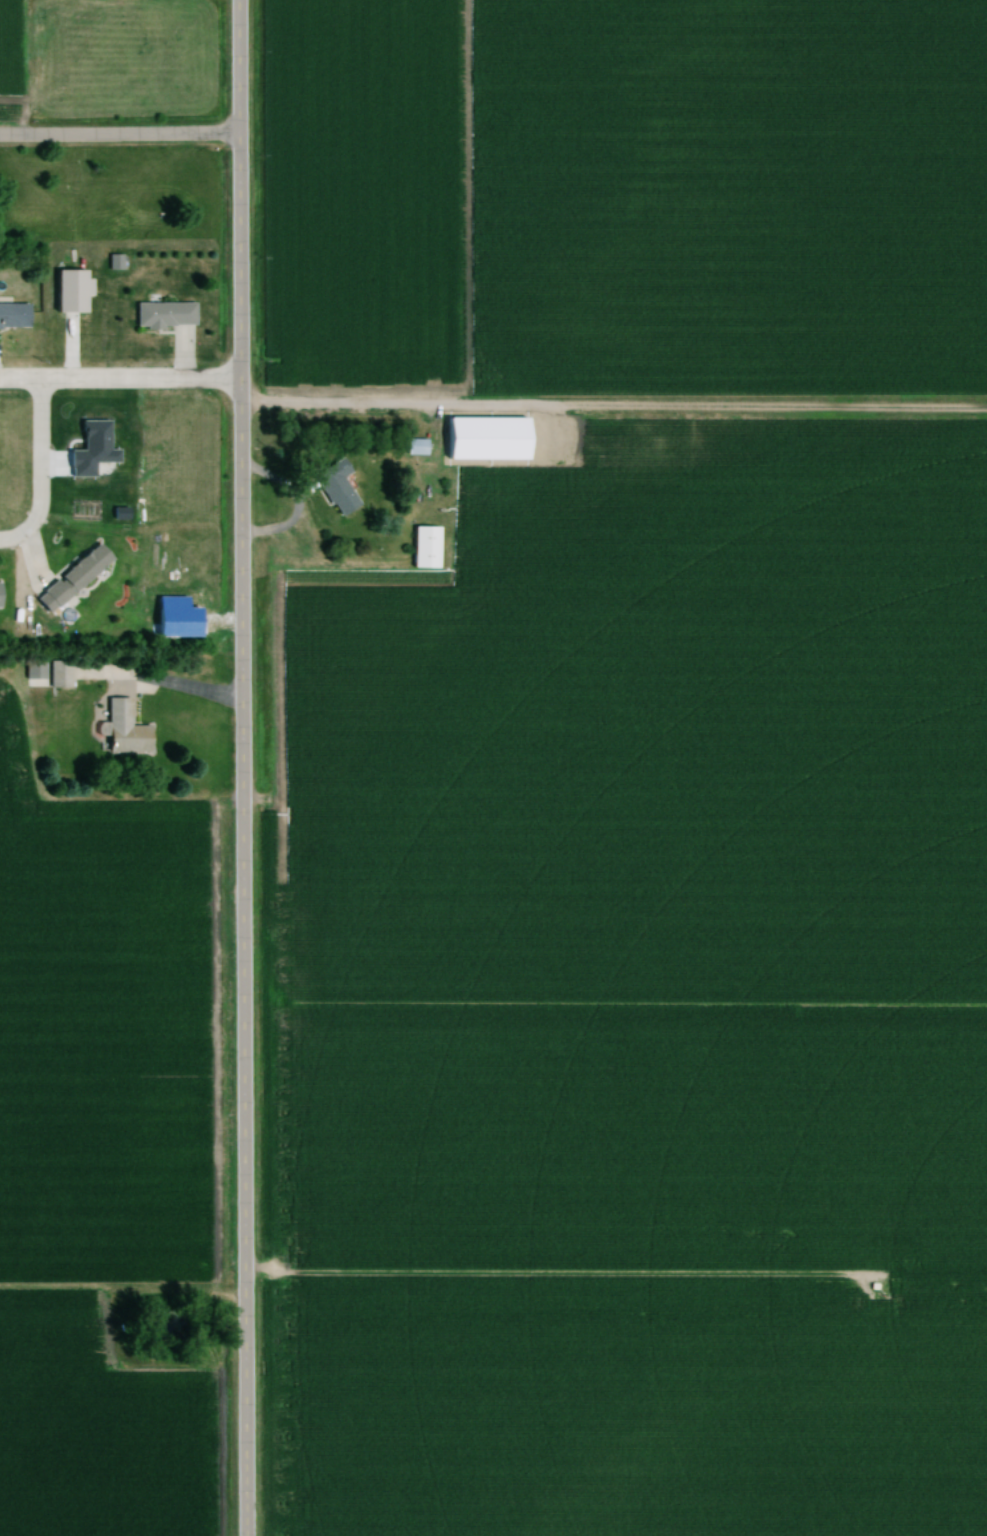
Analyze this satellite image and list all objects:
road: (118, 134)
building: (113, 263)
building: (12, 315)
building: (163, 315)
road: (120, 382)
building: (484, 436)
building: (414, 448)
road: (39, 472)
building: (334, 487)
building: (425, 542)
building: (69, 579)
building: (0, 595)
building: (46, 675)
building: (122, 729)
road: (241, 767)
crop: (105, 1032)

